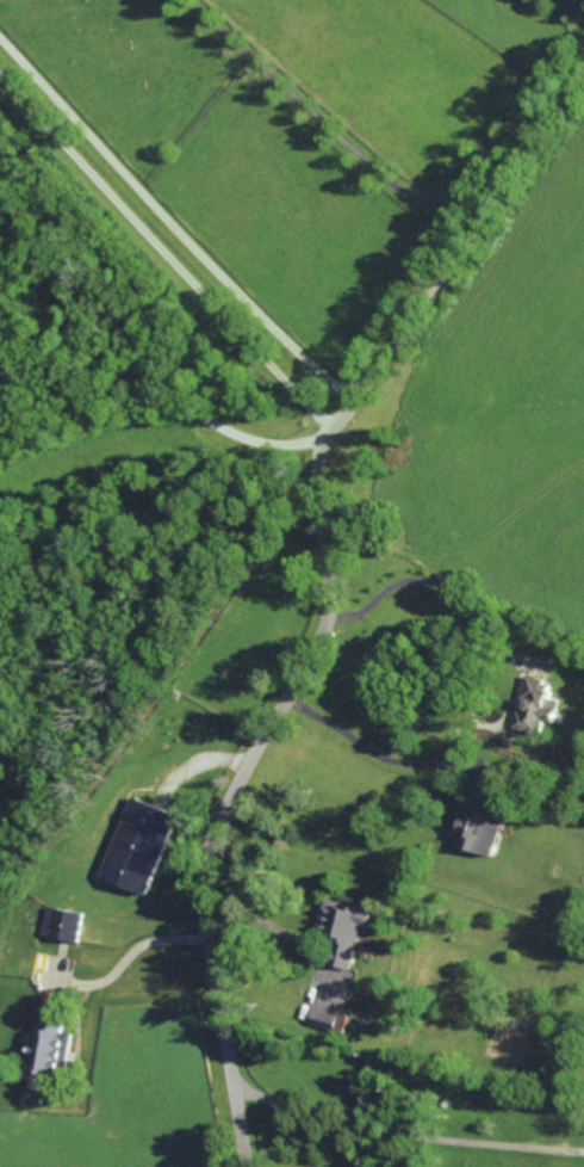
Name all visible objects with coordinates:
road: (582, 1)
road: (356, 156)
road: (175, 224)
road: (166, 255)
road: (126, 365)
road: (462, 550)
road: (427, 581)
road: (329, 599)
building: (536, 705)
road: (379, 754)
building: (479, 827)
building: (141, 845)
building: (63, 924)
road: (272, 925)
building: (347, 927)
road: (129, 958)
building: (330, 1018)
building: (52, 1048)
road: (405, 1135)

